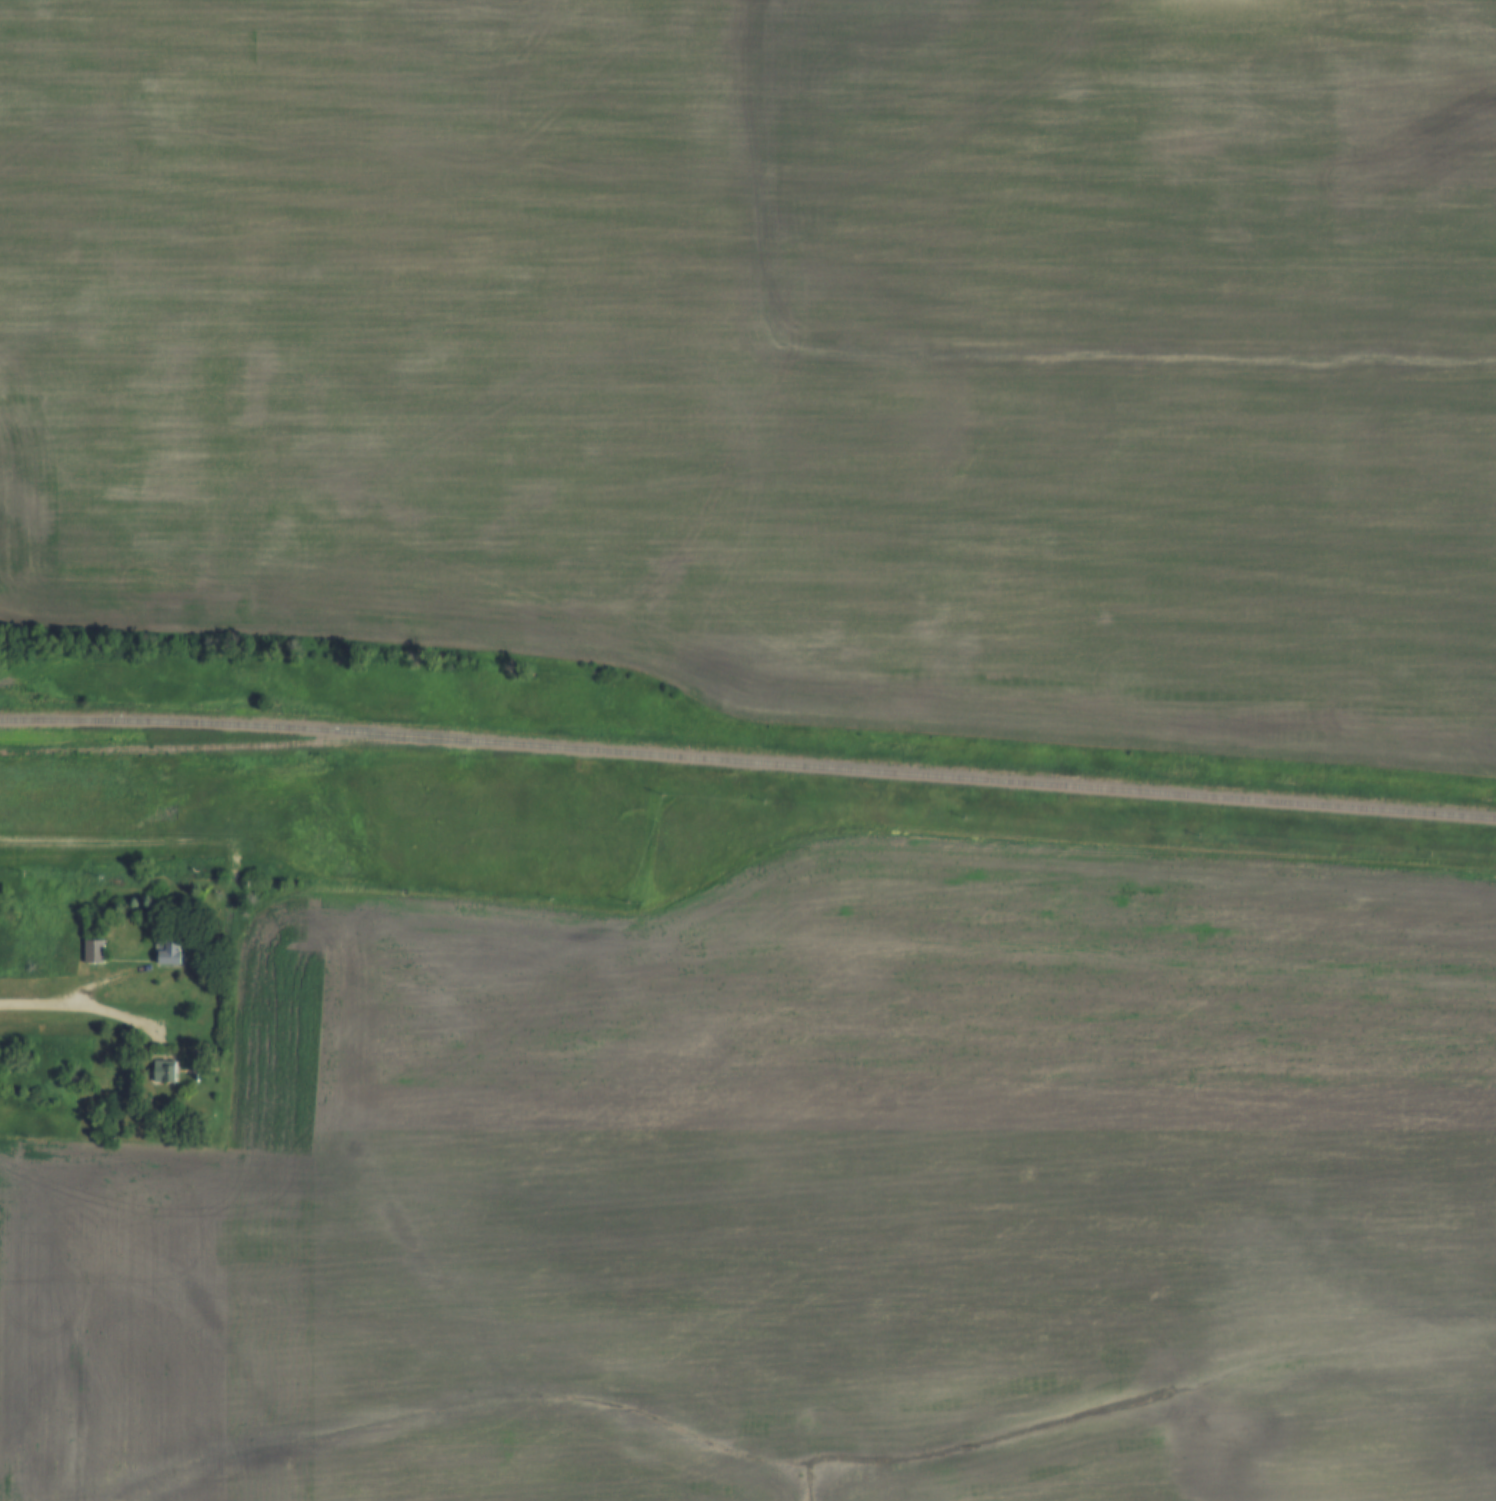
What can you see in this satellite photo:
railway: (230, 747)
railway: (748, 761)
road: (82, 844)
building: (95, 951)
building: (170, 952)
road: (50, 1002)
building: (165, 1071)

